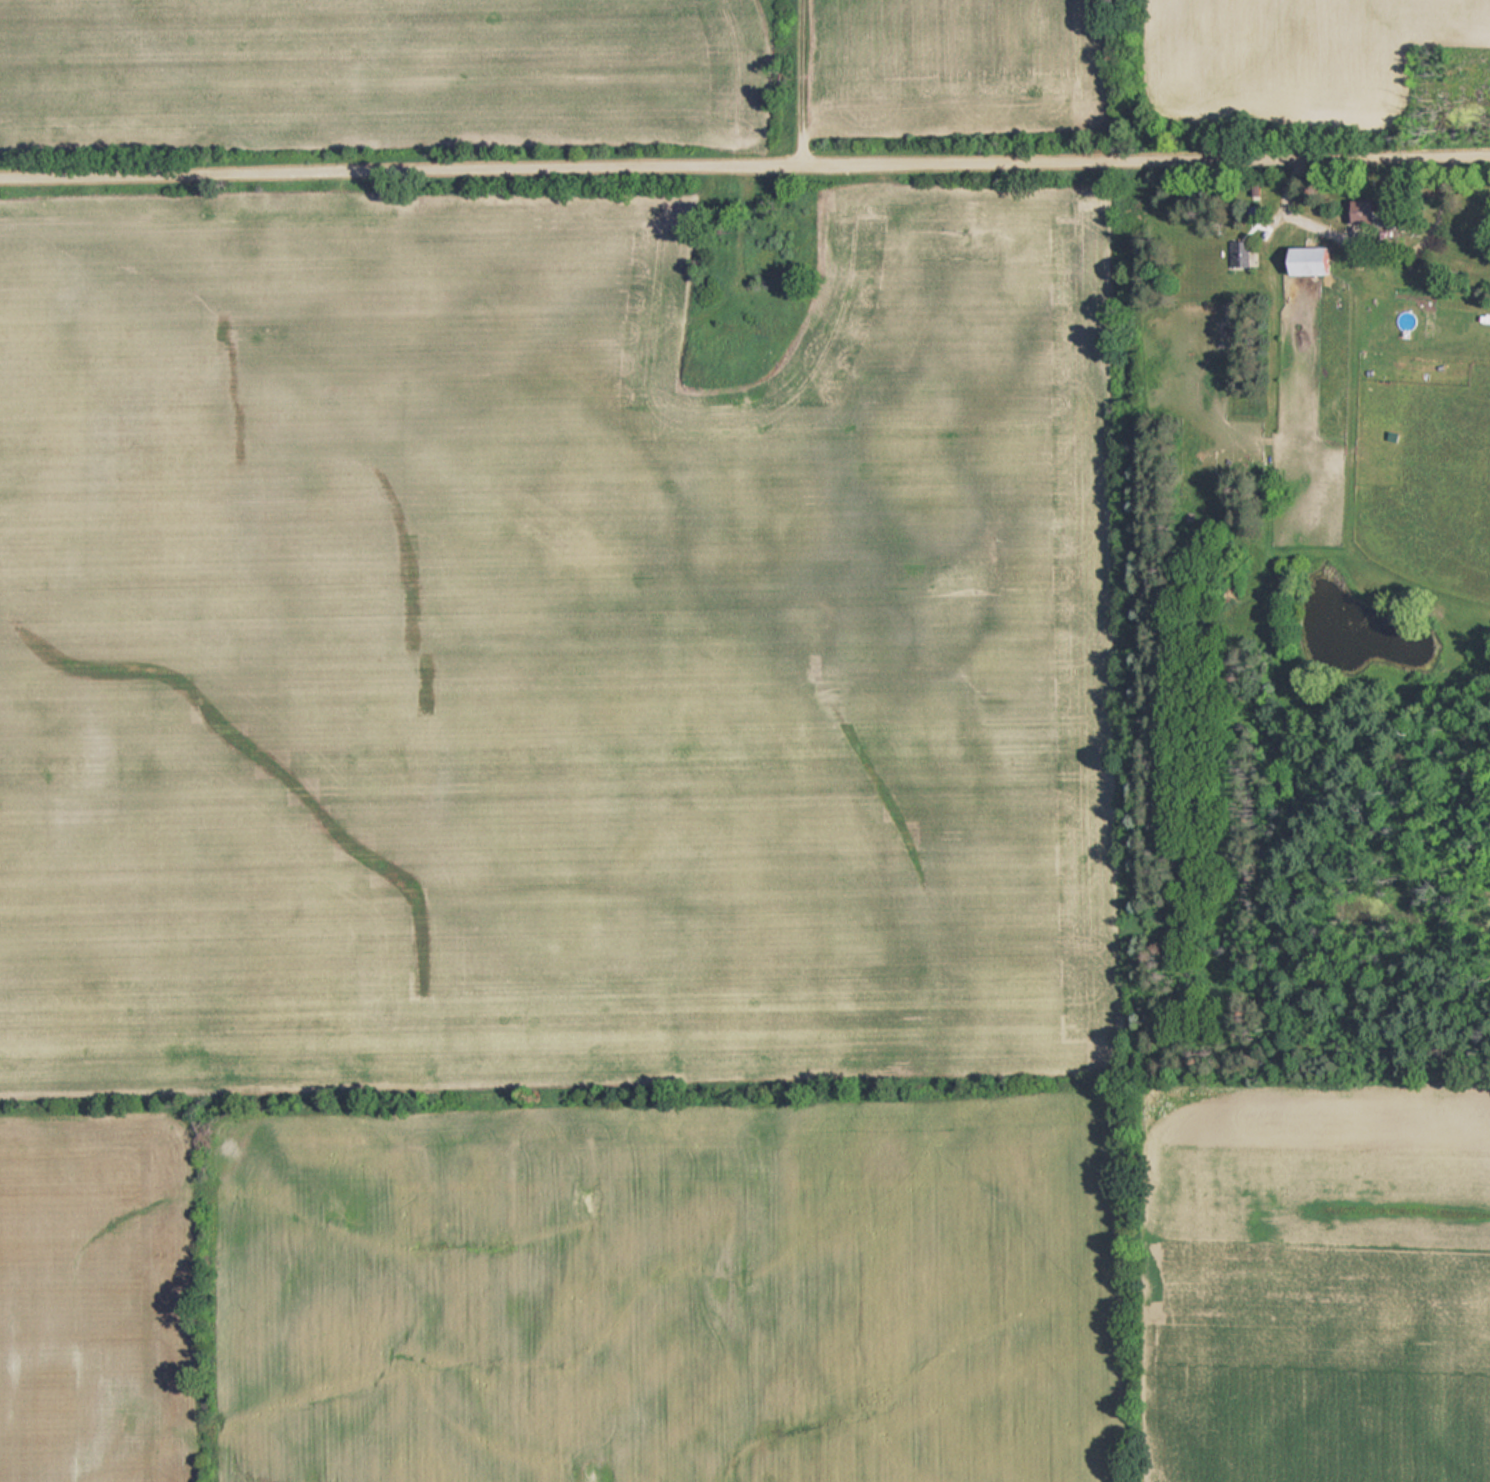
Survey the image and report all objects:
road: (744, 177)
building: (1386, 211)
building: (1322, 261)

